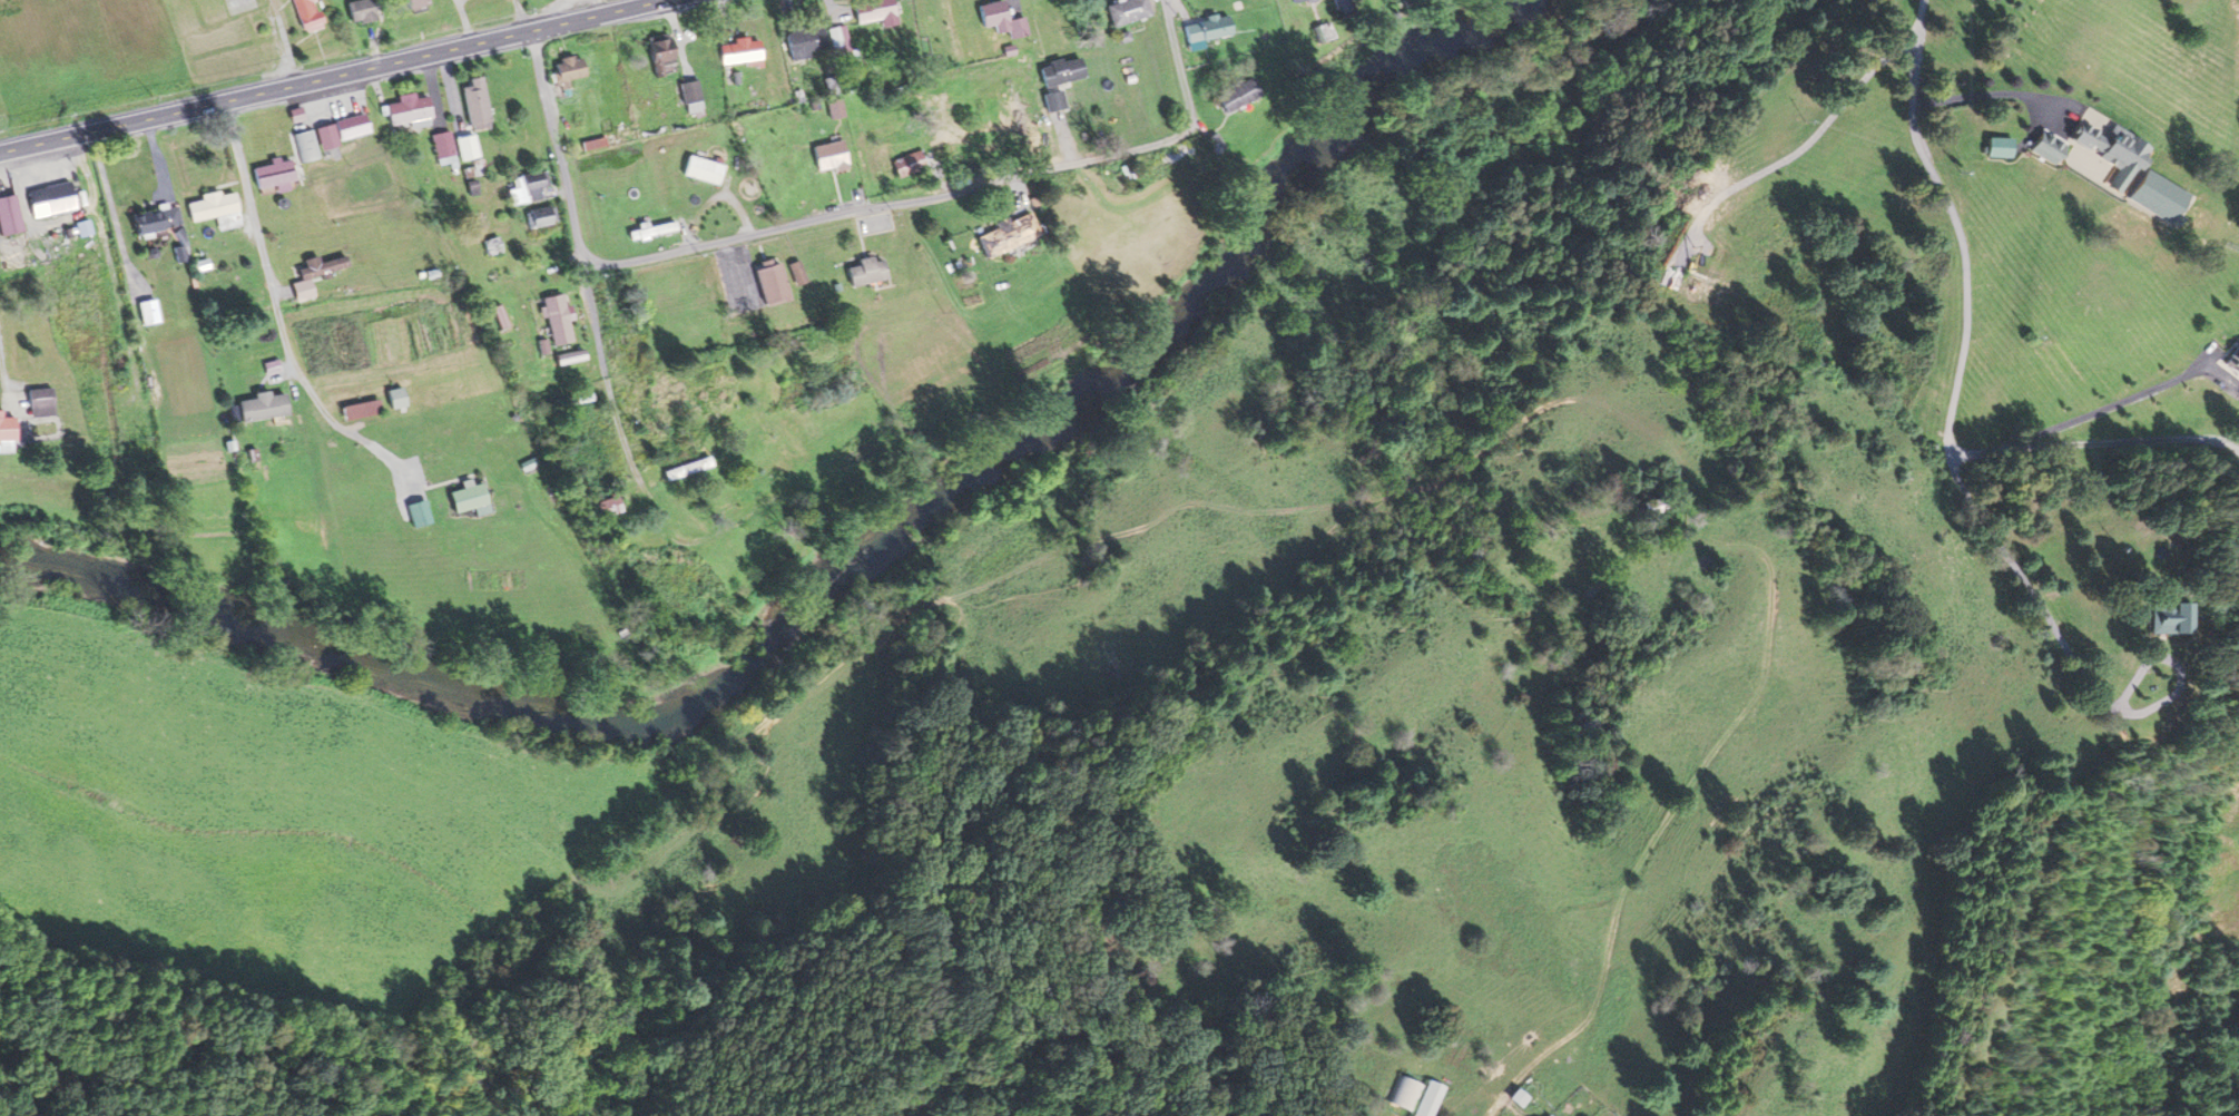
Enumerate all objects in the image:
building: (239, 6)
building: (377, 9)
building: (1126, 11)
building: (872, 12)
road: (521, 13)
building: (304, 14)
building: (999, 20)
building: (1204, 31)
building: (1320, 33)
building: (803, 41)
building: (740, 52)
building: (657, 53)
building: (566, 71)
building: (1059, 72)
road: (327, 76)
road: (1985, 94)
building: (688, 96)
building: (1236, 96)
building: (1052, 101)
building: (472, 105)
building: (405, 111)
building: (348, 127)
building: (600, 143)
building: (305, 146)
road: (559, 147)
road: (1795, 147)
building: (441, 148)
building: (941, 148)
building: (1996, 148)
building: (2108, 148)
building: (826, 157)
building: (912, 163)
building: (699, 170)
building: (785, 170)
building: (269, 176)
building: (528, 187)
road: (965, 188)
building: (214, 211)
building: (6, 215)
building: (538, 218)
building: (153, 221)
road: (1957, 223)
building: (1004, 235)
building: (490, 247)
building: (72, 252)
building: (862, 272)
building: (794, 273)
building: (311, 275)
building: (767, 285)
building: (1692, 287)
building: (145, 313)
road: (278, 314)
building: (553, 321)
building: (2232, 361)
building: (249, 362)
road: (606, 373)
building: (392, 399)
building: (639, 400)
building: (37, 403)
road: (2100, 408)
building: (4, 432)
road: (2094, 442)
building: (684, 469)
building: (463, 498)
building: (606, 508)
building: (415, 513)
river: (839, 581)
building: (2153, 620)
road: (2079, 674)
building: (1412, 1096)
building: (1535, 1115)

